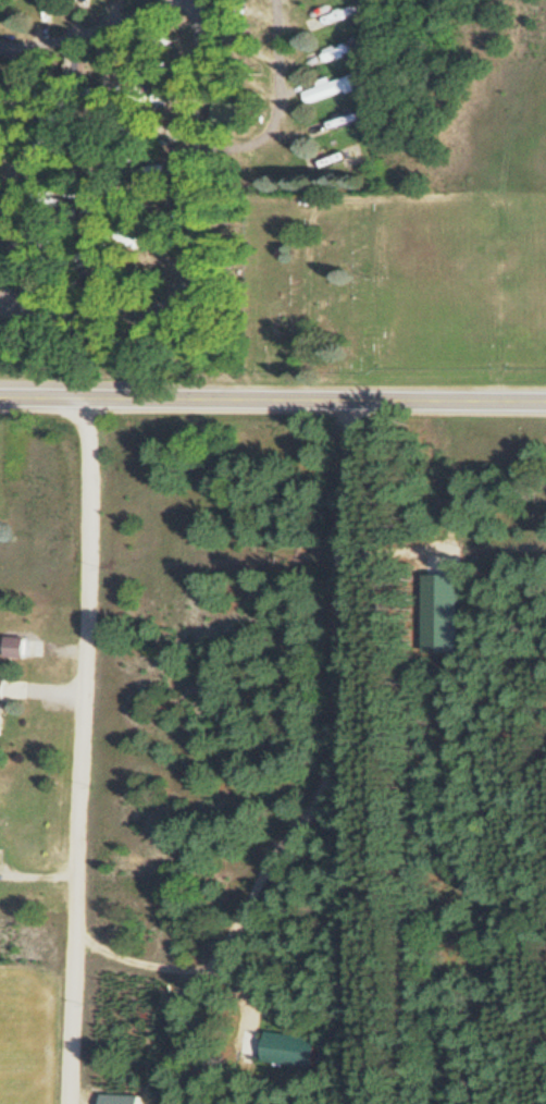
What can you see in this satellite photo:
building: (51, 11)
road: (96, 28)
building: (336, 52)
road: (195, 85)
building: (331, 89)
building: (229, 114)
building: (48, 150)
road: (102, 168)
road: (13, 176)
road: (194, 216)
park: (309, 285)
road: (272, 401)
building: (15, 648)
building: (2, 706)
road: (83, 751)
building: (293, 1050)
building: (120, 1099)

